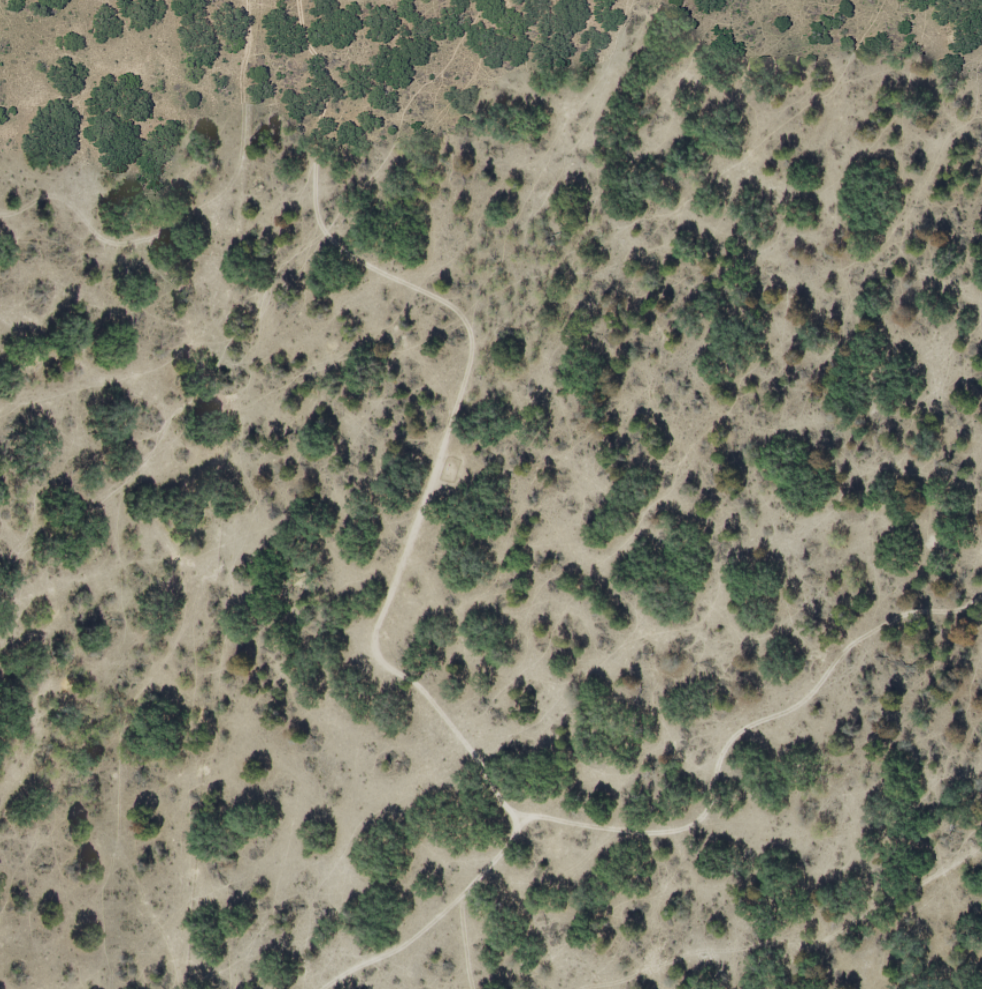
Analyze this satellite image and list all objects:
road: (200, 608)

